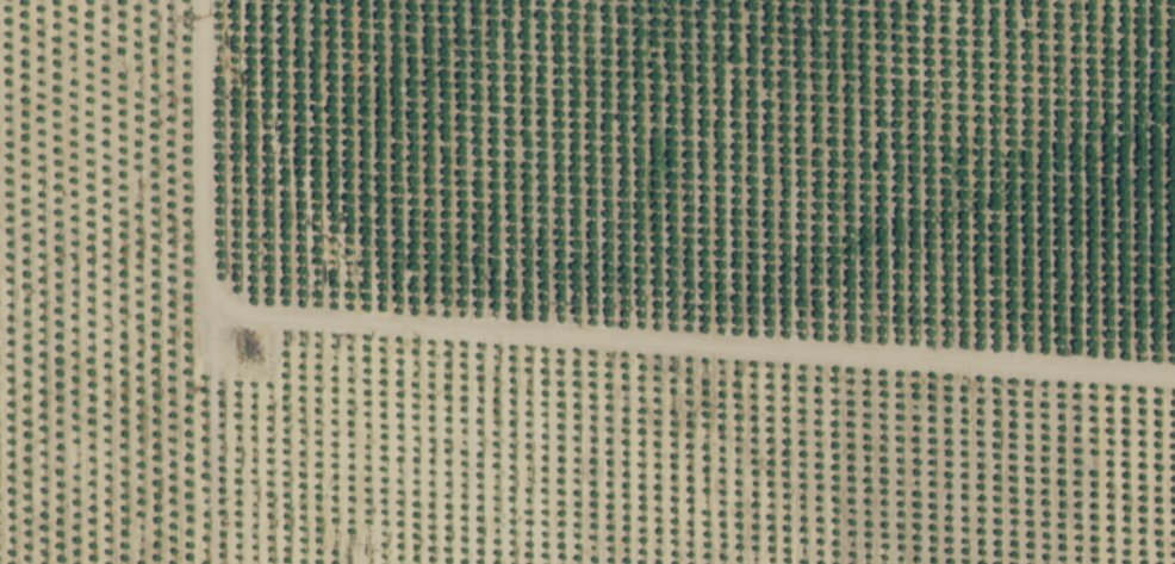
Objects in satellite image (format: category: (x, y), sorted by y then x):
crop: (593, 269)

